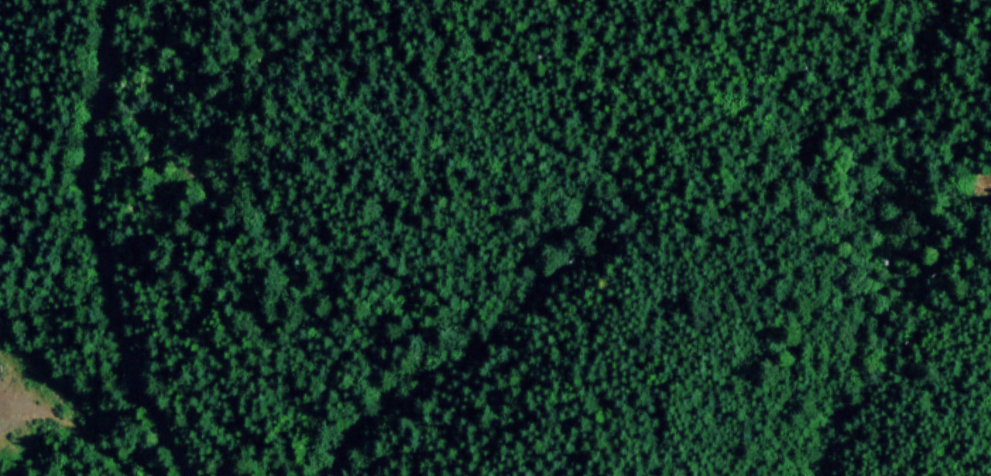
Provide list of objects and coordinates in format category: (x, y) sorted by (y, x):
road: (104, 248)

